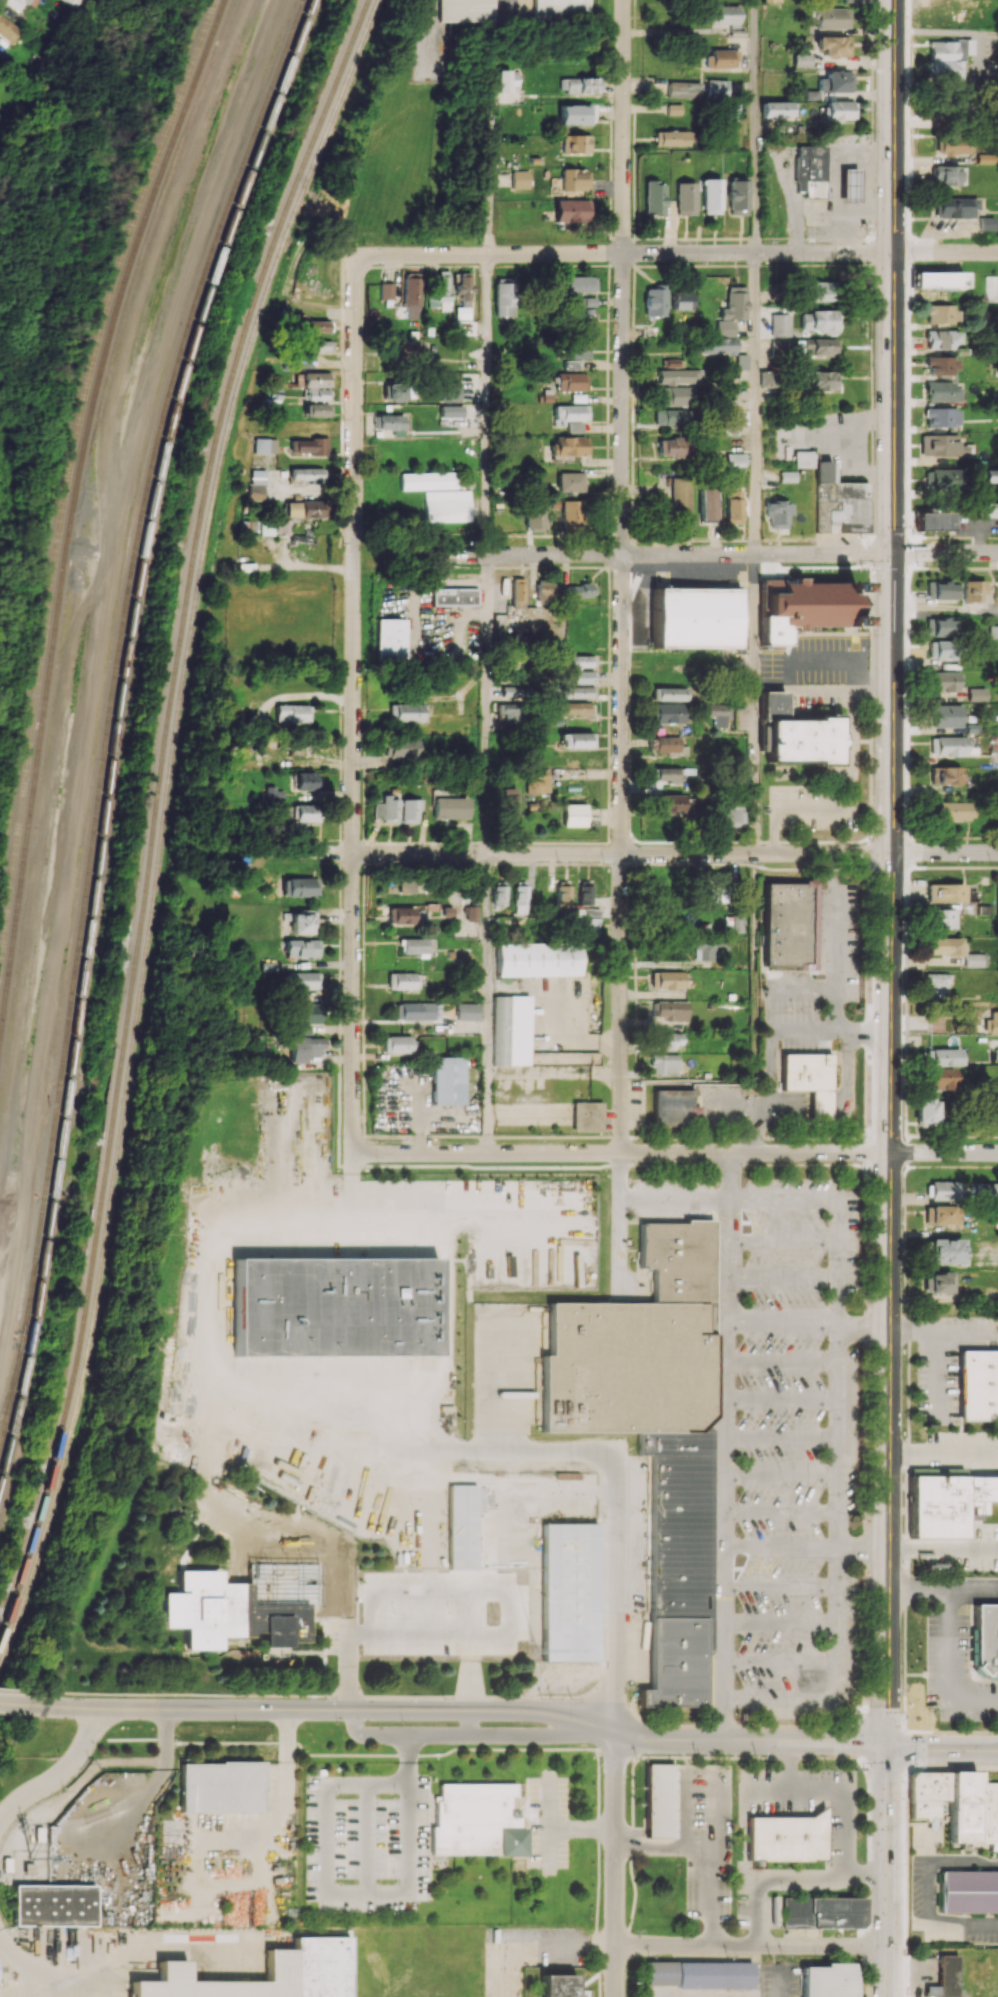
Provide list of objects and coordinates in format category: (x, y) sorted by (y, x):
building: (774, 0)
building: (13, 3)
building: (80, 5)
road: (516, 5)
building: (562, 9)
building: (465, 10)
building: (727, 15)
building: (831, 18)
railway: (205, 21)
building: (7, 29)
building: (832, 46)
building: (946, 58)
building: (721, 59)
building: (802, 60)
building: (503, 81)
building: (834, 81)
building: (574, 85)
building: (684, 89)
building: (717, 89)
building: (811, 94)
railway: (77, 106)
building: (778, 109)
building: (839, 110)
building: (571, 114)
road: (755, 126)
building: (670, 137)
building: (572, 143)
building: (952, 146)
building: (985, 158)
building: (810, 170)
road: (489, 174)
building: (949, 175)
building: (518, 179)
building: (572, 179)
road: (863, 181)
railway: (15, 184)
building: (849, 184)
building: (711, 196)
building: (737, 197)
building: (653, 198)
building: (685, 198)
building: (954, 207)
road: (813, 208)
building: (569, 210)
building: (985, 223)
road: (944, 252)
road: (624, 253)
building: (937, 280)
building: (578, 284)
building: (463, 287)
building: (991, 288)
building: (386, 291)
building: (818, 291)
building: (441, 293)
building: (412, 298)
building: (504, 299)
building: (680, 299)
building: (654, 300)
building: (587, 302)
building: (733, 303)
railway: (55, 313)
building: (582, 314)
building: (941, 314)
building: (818, 321)
building: (779, 325)
building: (317, 326)
building: (725, 328)
building: (941, 339)
railway: (56, 343)
building: (318, 345)
building: (716, 346)
building: (816, 347)
building: (409, 350)
building: (579, 350)
building: (304, 361)
building: (741, 361)
building: (671, 363)
building: (571, 364)
building: (941, 365)
building: (674, 376)
building: (766, 378)
building: (315, 379)
building: (820, 379)
building: (571, 381)
building: (395, 391)
building: (448, 391)
building: (941, 392)
building: (318, 394)
building: (675, 396)
road: (754, 403)
building: (316, 410)
building: (569, 413)
building: (670, 416)
building: (941, 417)
building: (391, 423)
building: (728, 425)
building: (573, 426)
building: (312, 428)
building: (267, 445)
building: (310, 446)
building: (569, 446)
building: (940, 446)
building: (672, 447)
building: (733, 459)
railway: (70, 474)
building: (309, 475)
building: (256, 476)
building: (785, 476)
building: (990, 476)
building: (942, 479)
building: (429, 480)
building: (570, 482)
building: (256, 492)
building: (681, 493)
building: (834, 498)
building: (447, 505)
building: (706, 505)
building: (733, 506)
building: (303, 508)
railway: (72, 510)
building: (987, 510)
building: (572, 513)
building: (776, 513)
building: (535, 516)
building: (932, 521)
road: (944, 552)
road: (675, 553)
road: (622, 576)
building: (940, 589)
building: (545, 590)
building: (580, 590)
building: (972, 591)
building: (518, 593)
building: (454, 596)
building: (803, 607)
building: (696, 618)
building: (940, 626)
building: (391, 639)
building: (940, 649)
road: (806, 658)
building: (579, 661)
building: (580, 677)
building: (944, 681)
building: (514, 691)
building: (578, 692)
building: (669, 693)
building: (976, 694)
road: (753, 703)
road: (353, 704)
building: (772, 705)
building: (574, 708)
building: (406, 712)
building: (510, 712)
building: (291, 713)
building: (669, 713)
building: (719, 713)
building: (945, 715)
railway: (111, 719)
railway: (118, 737)
building: (577, 740)
building: (801, 740)
building: (664, 743)
building: (950, 746)
building: (401, 747)
building: (997, 750)
building: (667, 774)
building: (945, 775)
building: (306, 781)
building: (538, 781)
road: (849, 787)
building: (273, 793)
building: (510, 801)
building: (670, 803)
building: (450, 807)
building: (386, 810)
building: (409, 810)
building: (952, 810)
building: (733, 812)
building: (304, 813)
building: (574, 814)
railway: (156, 817)
railway: (164, 830)
road: (943, 852)
road: (621, 853)
road: (484, 854)
building: (405, 885)
building: (715, 885)
building: (299, 887)
building: (585, 892)
building: (945, 892)
building: (500, 893)
building: (521, 897)
building: (563, 897)
building: (997, 902)
building: (470, 913)
building: (400, 915)
building: (941, 918)
building: (302, 922)
building: (591, 923)
building: (735, 924)
building: (789, 924)
building: (943, 945)
building: (415, 946)
building: (302, 948)
building: (708, 948)
building: (537, 959)
building: (975, 960)
road: (836, 964)
building: (302, 980)
building: (403, 980)
building: (668, 980)
building: (935, 985)
road: (889, 998)
building: (670, 1010)
building: (414, 1011)
building: (466, 1011)
building: (305, 1017)
building: (936, 1021)
building: (992, 1023)
building: (511, 1030)
road: (771, 1039)
building: (666, 1040)
building: (396, 1044)
building: (305, 1048)
building: (996, 1053)
building: (943, 1057)
building: (564, 1058)
building: (665, 1063)
building: (941, 1078)
building: (809, 1079)
building: (448, 1080)
road: (751, 1106)
building: (675, 1107)
building: (925, 1112)
building: (988, 1114)
building: (586, 1116)
road: (704, 1129)
road: (943, 1152)
road: (621, 1153)
building: (940, 1189)
building: (989, 1191)
road: (783, 1199)
road: (650, 1200)
building: (939, 1215)
building: (943, 1251)
railway: (39, 1264)
building: (937, 1282)
building: (335, 1307)
road: (782, 1318)
road: (862, 1329)
road: (936, 1350)
building: (978, 1385)
railway: (9, 1397)
road: (836, 1400)
building: (653, 1431)
road: (725, 1446)
road: (495, 1451)
road: (942, 1451)
building: (947, 1503)
building: (461, 1527)
road: (938, 1548)
road: (780, 1549)
road: (331, 1575)
road: (942, 1588)
building: (568, 1592)
road: (616, 1592)
building: (230, 1613)
road: (838, 1617)
road: (410, 1635)
building: (986, 1639)
road: (948, 1664)
road: (474, 1673)
road: (9, 1690)
road: (449, 1696)
road: (783, 1698)
road: (16, 1702)
road: (324, 1709)
road: (542, 1733)
road: (415, 1735)
road: (748, 1740)
traffic signals: (886, 1745)
road: (941, 1751)
road: (59, 1770)
road: (835, 1786)
building: (221, 1787)
road: (140, 1798)
building: (659, 1800)
building: (956, 1804)
road: (285, 1815)
building: (477, 1820)
road: (549, 1821)
road: (582, 1826)
building: (786, 1838)
road: (662, 1844)
road: (710, 1857)
road: (868, 1857)
road: (614, 1861)
road: (866, 1874)
road: (769, 1878)
building: (969, 1891)
road: (352, 1893)
road: (932, 1893)
building: (53, 1905)
building: (822, 1912)
building: (774, 1913)
road: (750, 1945)
building: (307, 1964)
road: (49, 1969)
building: (701, 1974)
building: (945, 1978)
building: (828, 1980)
building: (557, 1986)

